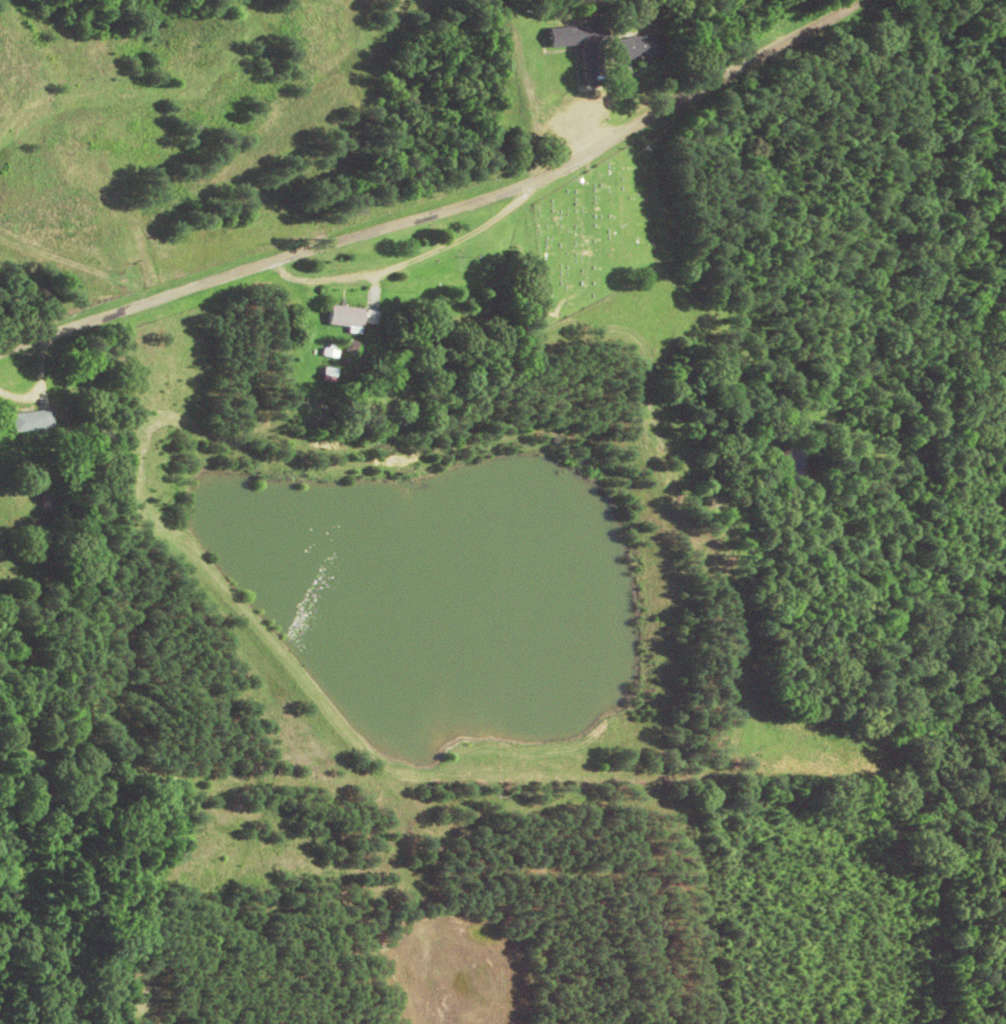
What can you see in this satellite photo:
building: (627, 50)
building: (569, 52)
road: (484, 71)
road: (389, 177)
building: (343, 318)
building: (24, 422)

